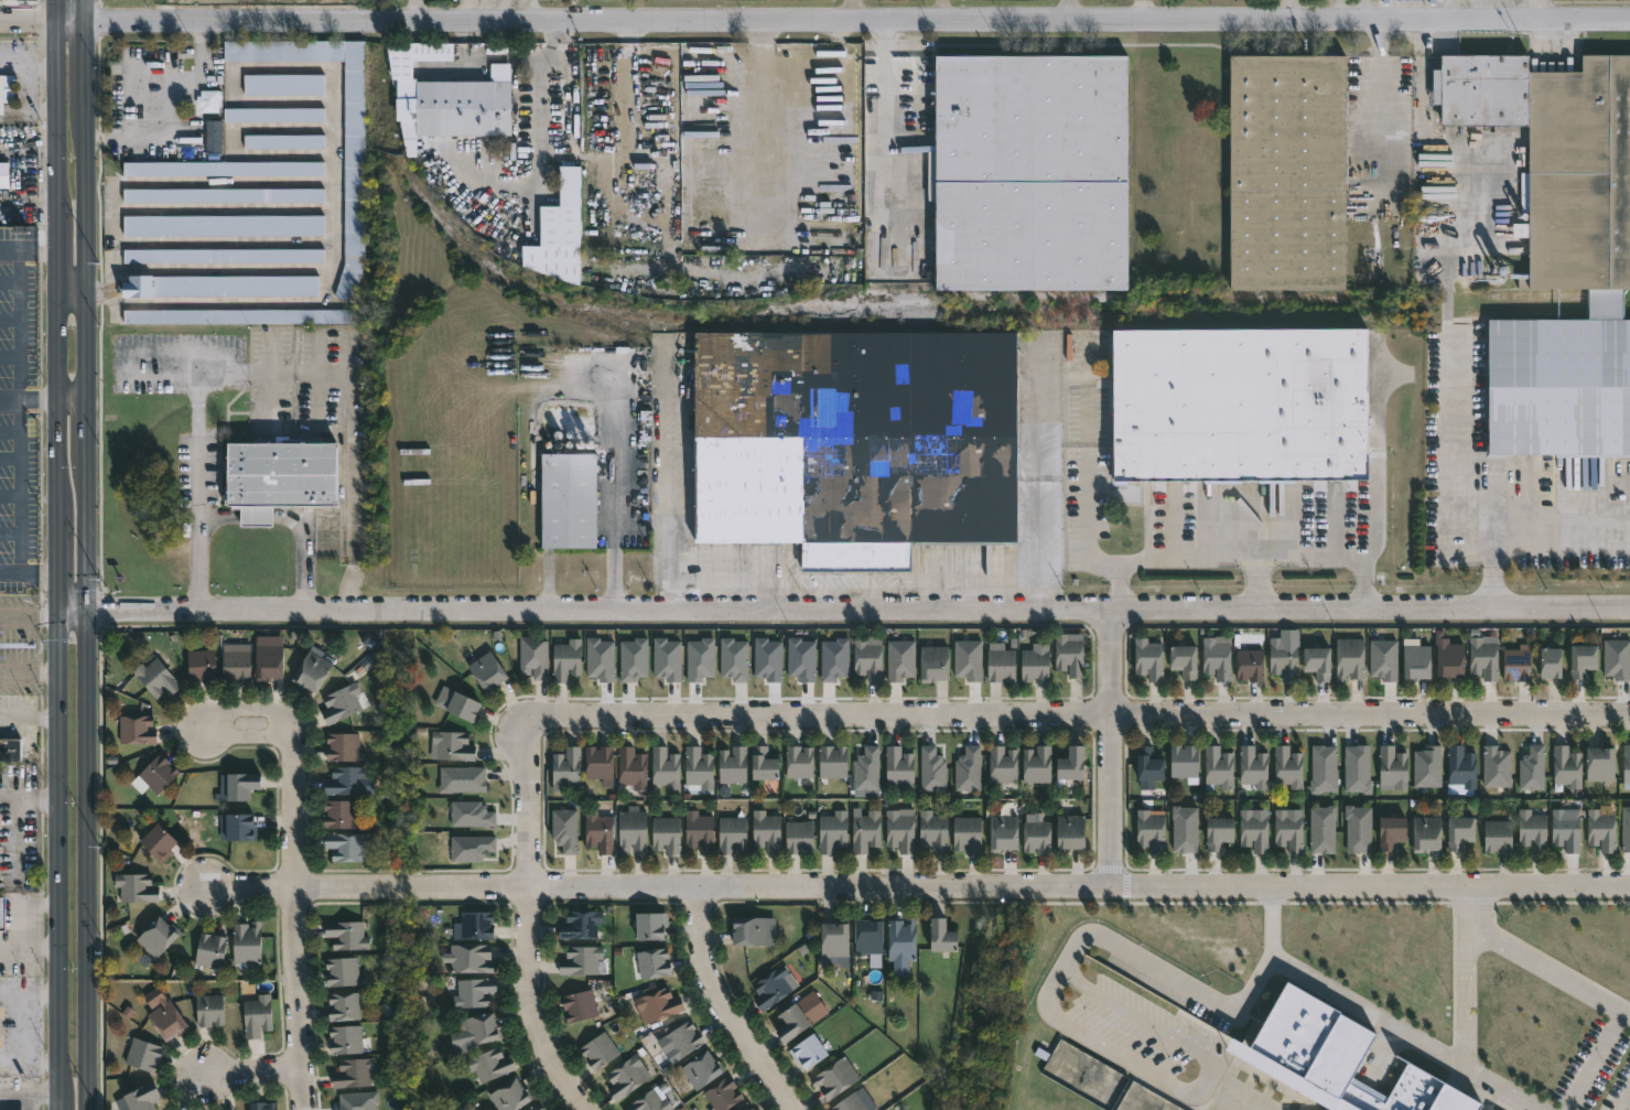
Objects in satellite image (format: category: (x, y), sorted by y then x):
road: (868, 9)
road: (1081, 9)
road: (1142, 9)
road: (1284, 9)
road: (1348, 9)
road: (482, 10)
road: (525, 10)
road: (814, 19)
building: (409, 55)
building: (283, 86)
road: (541, 90)
building: (6, 93)
road: (1380, 95)
building: (208, 100)
road: (179, 103)
building: (458, 107)
building: (274, 116)
building: (214, 134)
road: (882, 136)
building: (284, 142)
building: (223, 170)
road: (13, 171)
building: (1032, 171)
building: (1285, 171)
building: (3, 175)
road: (333, 181)
building: (354, 182)
building: (224, 197)
road: (116, 213)
building: (224, 227)
road: (28, 246)
building: (1557, 248)
building: (224, 258)
building: (219, 288)
road: (72, 291)
road: (231, 303)
railway: (938, 313)
building: (237, 319)
road: (17, 323)
road: (117, 357)
road: (26, 399)
road: (72, 399)
building: (1243, 403)
building: (274, 409)
road: (196, 410)
railway: (341, 434)
building: (857, 442)
road: (1458, 453)
road: (352, 464)
road: (1378, 470)
building: (277, 477)
road: (18, 493)
building: (566, 496)
road: (612, 511)
road: (290, 518)
road: (1526, 541)
road: (55, 554)
road: (89, 554)
road: (1130, 559)
road: (1116, 570)
road: (36, 571)
road: (846, 580)
road: (889, 580)
road: (942, 580)
road: (1007, 580)
road: (349, 586)
road: (1256, 586)
road: (1362, 593)
road: (822, 594)
road: (1112, 594)
road: (842, 610)
traffic signals: (89, 611)
road: (28, 612)
traffic signals: (56, 612)
building: (1067, 655)
building: (533, 658)
building: (1146, 658)
building: (1215, 658)
building: (1348, 658)
building: (1444, 658)
building: (1481, 658)
building: (568, 659)
building: (867, 659)
building: (1281, 659)
building: (1181, 660)
building: (1580, 660)
building: (236, 662)
building: (269, 662)
building: (1315, 662)
building: (1414, 662)
building: (936, 664)
building: (1514, 664)
building: (1544, 664)
building: (1033, 665)
building: (1248, 665)
building: (202, 666)
building: (1002, 666)
building: (312, 671)
building: (488, 672)
road: (28, 676)
building: (156, 678)
building: (343, 703)
building: (464, 707)
road: (1078, 713)
building: (136, 730)
building: (452, 745)
building: (342, 746)
road: (1108, 747)
building: (10, 751)
building: (600, 762)
building: (800, 762)
building: (830, 762)
building: (1186, 762)
building: (1067, 764)
building: (1598, 764)
building: (1626, 764)
building: (730, 765)
building: (765, 765)
building: (1001, 765)
building: (1034, 765)
building: (1152, 765)
building: (1255, 767)
building: (1286, 767)
building: (1391, 767)
building: (1458, 767)
building: (1565, 767)
building: (566, 768)
building: (629, 768)
building: (667, 768)
building: (695, 768)
building: (898, 768)
building: (1216, 768)
building: (158, 774)
building: (347, 782)
building: (236, 786)
road: (10, 799)
road: (17, 815)
building: (339, 815)
building: (237, 827)
building: (1563, 828)
building: (1598, 829)
building: (898, 830)
building: (629, 831)
building: (697, 831)
building: (764, 831)
building: (830, 831)
building: (863, 831)
building: (930, 831)
building: (1153, 831)
building: (1255, 831)
building: (1291, 831)
building: (1531, 831)
building: (597, 832)
building: (1067, 832)
building: (1389, 832)
building: (1457, 832)
building: (1000, 833)
building: (1216, 833)
building: (663, 834)
building: (730, 834)
building: (964, 834)
building: (1424, 834)
building: (1496, 837)
building: (797, 838)
building: (1034, 838)
building: (159, 842)
building: (346, 847)
road: (298, 873)
road: (919, 886)
building: (137, 888)
building: (2, 914)
building: (477, 924)
road: (530, 924)
building: (576, 925)
building: (654, 925)
road: (20, 927)
building: (745, 931)
building: (347, 934)
building: (944, 935)
building: (158, 937)
building: (902, 938)
building: (872, 939)
building: (838, 940)
building: (248, 941)
road: (1480, 945)
building: (212, 949)
building: (472, 957)
building: (577, 960)
road: (1537, 962)
building: (650, 963)
building: (343, 971)
building: (775, 984)
road: (1198, 991)
building: (474, 992)
building: (659, 1003)
building: (581, 1005)
building: (343, 1006)
road: (722, 1006)
road: (1119, 1007)
building: (209, 1009)
road: (1367, 1010)
building: (257, 1014)
building: (169, 1019)
road: (1462, 1021)
building: (795, 1023)
building: (482, 1028)
building: (346, 1039)
building: (679, 1042)
building: (600, 1050)
building: (811, 1050)
building: (143, 1054)
road: (1594, 1061)
building: (490, 1064)
road: (1134, 1064)
building: (703, 1069)
road: (255, 1070)
building: (354, 1073)
building: (835, 1077)
building: (622, 1078)
building: (724, 1092)
building: (510, 1095)
building: (144, 1097)
road: (1624, 1100)
building: (856, 1101)
building: (1358, 1101)
building: (647, 1102)
building: (262, 1106)
building: (537, 1107)
building: (747, 1107)
building: (1410, 1108)

